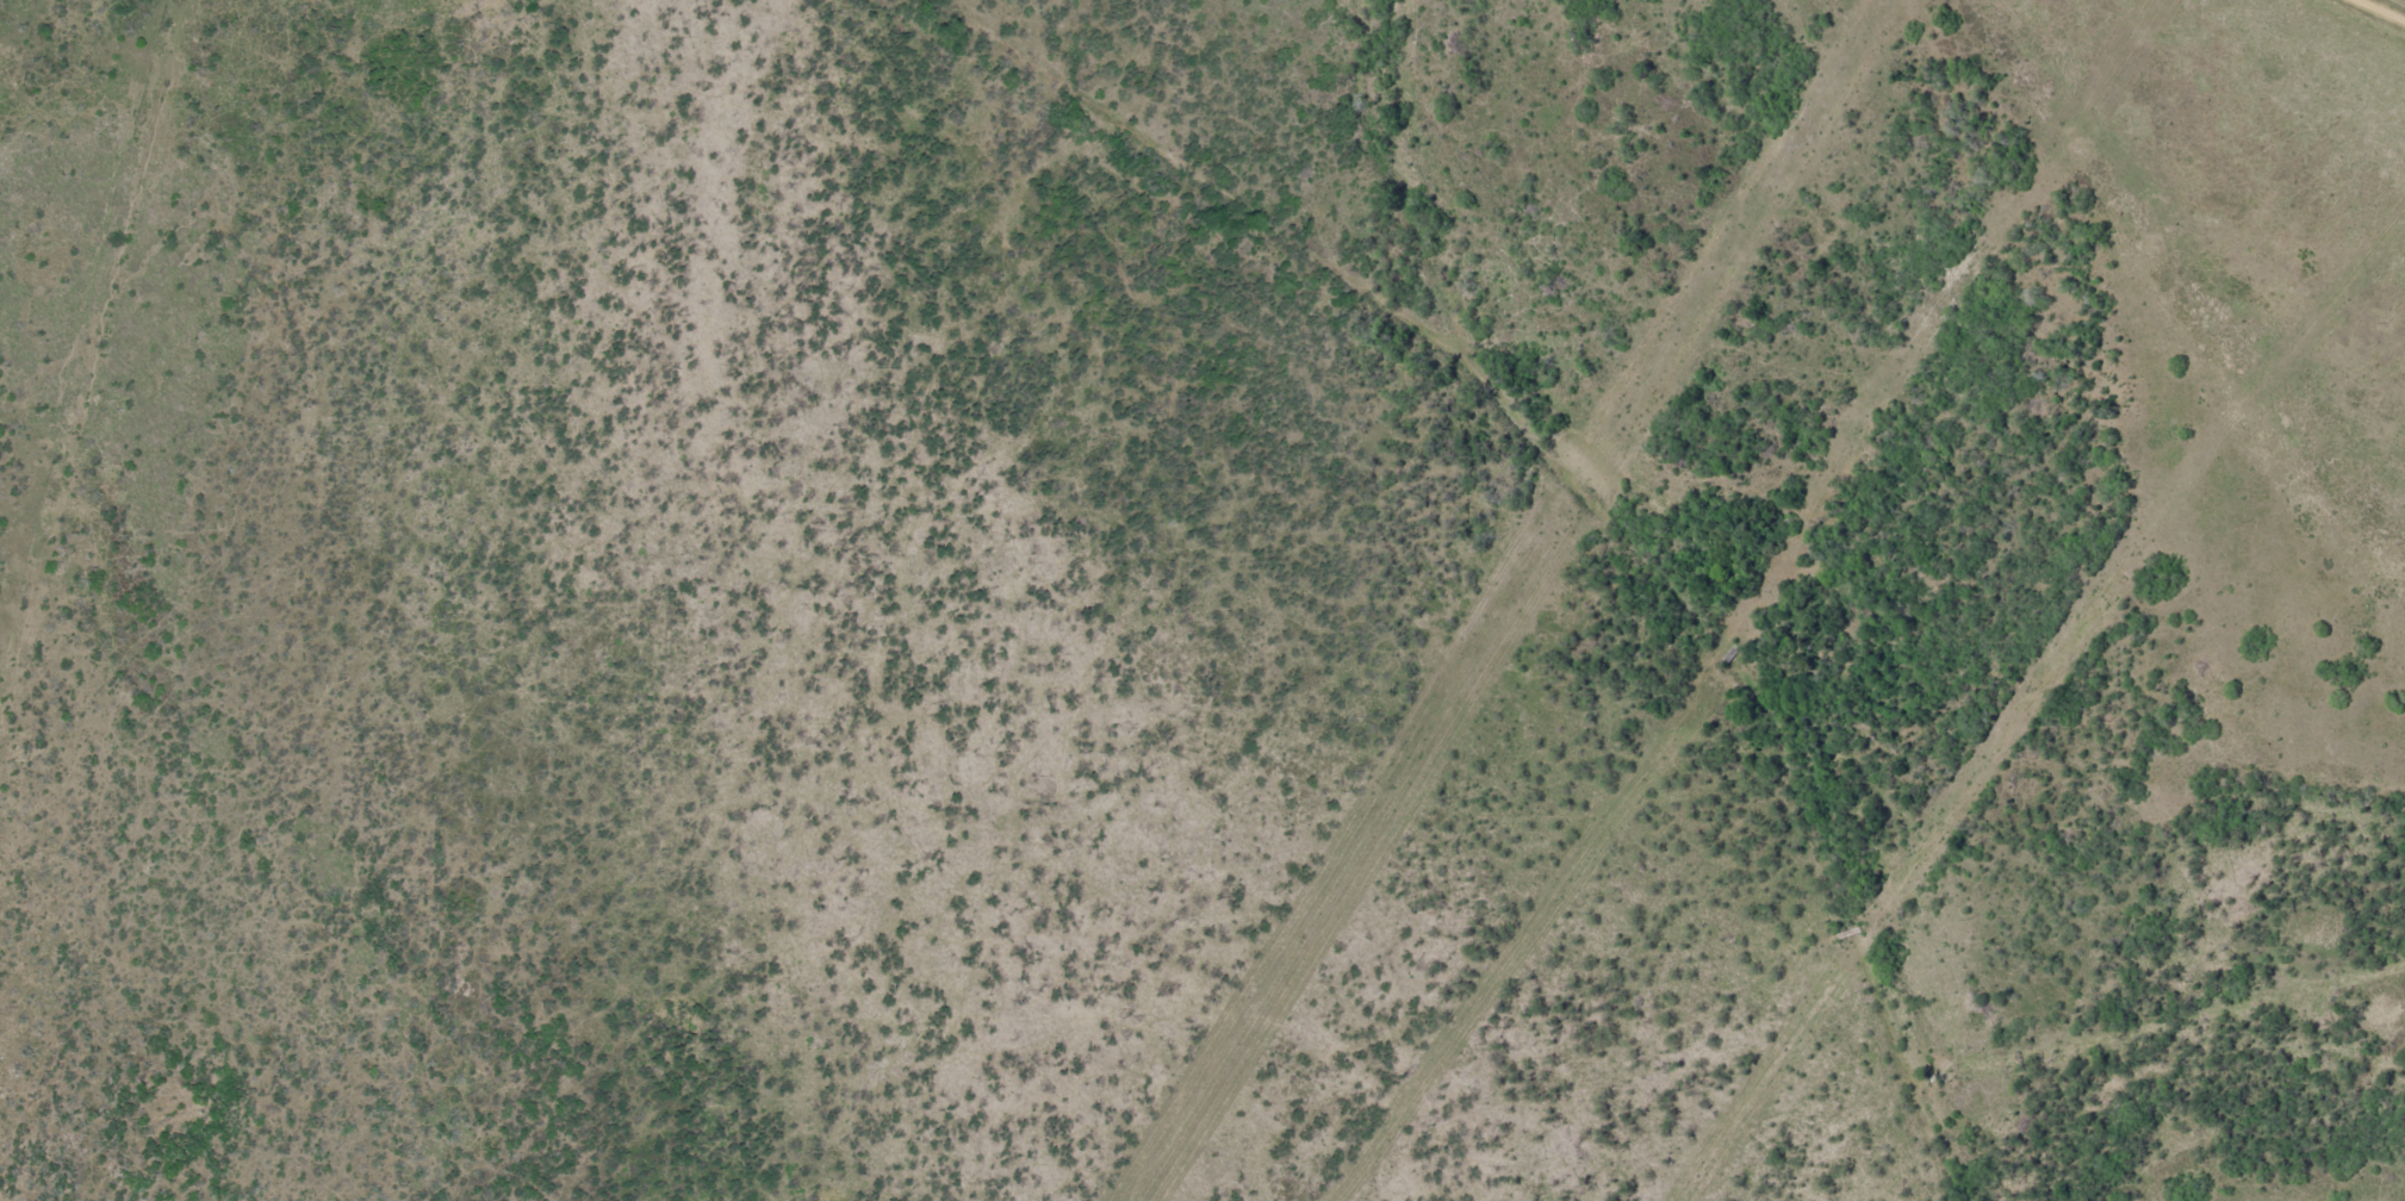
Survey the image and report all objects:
road: (2375, 12)

